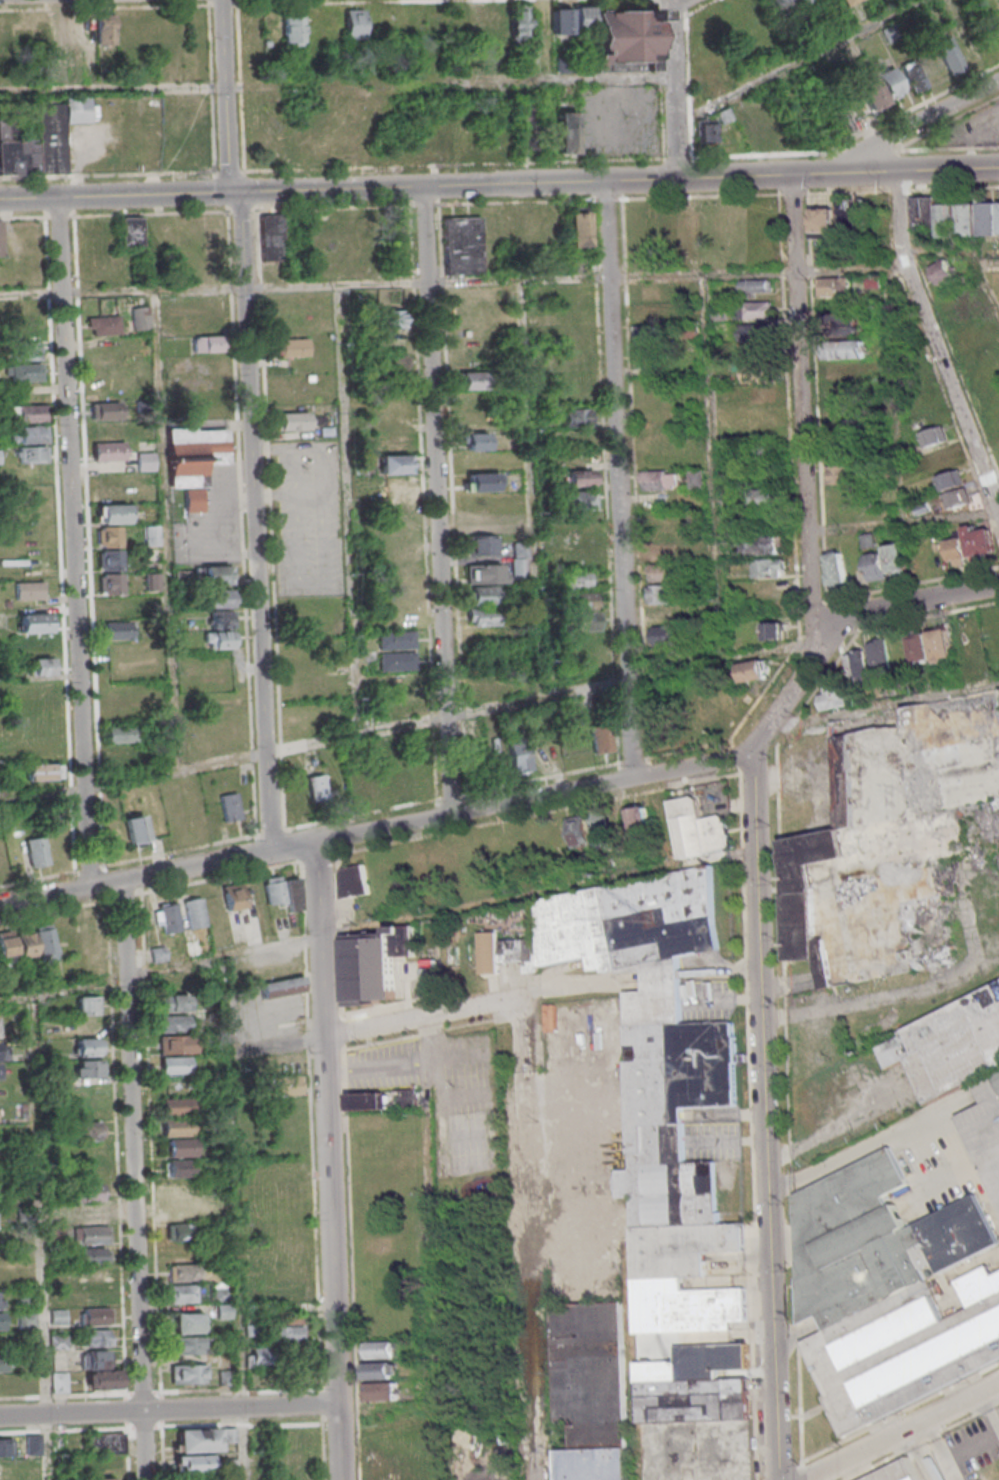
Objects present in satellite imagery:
building: (845, 2)
building: (801, 3)
building: (781, 6)
road: (693, 10)
building: (520, 21)
building: (561, 21)
building: (489, 22)
building: (355, 23)
building: (65, 27)
building: (293, 28)
building: (105, 29)
building: (622, 40)
building: (967, 47)
building: (948, 54)
road: (794, 61)
building: (564, 63)
building: (916, 75)
road: (455, 82)
building: (891, 82)
road: (674, 88)
road: (118, 91)
building: (870, 91)
building: (839, 123)
road: (907, 125)
building: (566, 132)
building: (705, 132)
road: (852, 138)
building: (40, 139)
building: (273, 140)
road: (901, 144)
road: (669, 157)
road: (744, 174)
road: (245, 191)
traffic signals: (242, 192)
building: (945, 215)
building: (854, 217)
building: (989, 217)
road: (25, 219)
building: (822, 222)
building: (578, 227)
building: (688, 227)
building: (132, 231)
building: (399, 231)
building: (273, 236)
building: (0, 238)
building: (462, 245)
road: (954, 250)
road: (51, 255)
building: (945, 272)
road: (453, 284)
building: (756, 286)
building: (835, 286)
road: (987, 287)
building: (649, 291)
road: (54, 295)
building: (754, 309)
building: (140, 317)
building: (392, 318)
building: (844, 324)
building: (103, 325)
building: (754, 332)
building: (648, 334)
road: (934, 337)
building: (207, 343)
building: (293, 347)
building: (27, 349)
building: (845, 349)
building: (843, 370)
building: (24, 372)
building: (757, 373)
building: (471, 380)
building: (759, 394)
building: (579, 396)
building: (392, 402)
building: (208, 406)
building: (106, 410)
building: (27, 412)
building: (842, 412)
road: (804, 416)
building: (573, 417)
building: (472, 419)
building: (292, 420)
road: (251, 424)
building: (109, 430)
building: (29, 433)
building: (935, 436)
building: (475, 441)
building: (108, 451)
building: (32, 453)
building: (0, 456)
building: (762, 458)
building: (145, 460)
building: (194, 460)
building: (940, 460)
building: (394, 463)
road: (714, 471)
building: (842, 474)
building: (580, 477)
road: (618, 478)
building: (696, 478)
building: (661, 480)
building: (951, 480)
building: (482, 481)
building: (396, 483)
building: (358, 487)
building: (109, 489)
road: (529, 491)
building: (764, 497)
road: (435, 499)
building: (957, 499)
building: (580, 500)
road: (348, 511)
building: (111, 513)
road: (906, 523)
road: (164, 531)
building: (151, 534)
building: (480, 534)
building: (108, 536)
building: (578, 541)
road: (63, 544)
road: (72, 544)
building: (764, 545)
building: (972, 545)
building: (661, 552)
building: (108, 559)
building: (519, 560)
building: (887, 562)
building: (767, 567)
building: (837, 569)
building: (663, 572)
building: (483, 573)
building: (212, 575)
building: (576, 579)
building: (109, 583)
building: (29, 590)
building: (483, 595)
building: (217, 598)
building: (154, 602)
building: (117, 608)
building: (583, 611)
building: (483, 616)
building: (664, 616)
road: (839, 620)
building: (34, 622)
building: (117, 630)
building: (220, 630)
building: (773, 630)
building: (396, 639)
building: (584, 642)
building: (930, 647)
building: (880, 658)
building: (397, 661)
building: (41, 666)
building: (857, 666)
building: (752, 670)
building: (39, 687)
building: (119, 692)
building: (832, 698)
building: (403, 706)
road: (887, 706)
road: (408, 725)
building: (121, 733)
building: (601, 738)
building: (540, 751)
building: (519, 754)
building: (124, 755)
building: (499, 760)
building: (43, 770)
building: (398, 776)
building: (317, 786)
building: (358, 786)
road: (73, 789)
building: (297, 796)
road: (533, 797)
building: (230, 806)
building: (639, 818)
building: (588, 827)
building: (697, 828)
building: (135, 829)
road: (292, 845)
building: (893, 845)
building: (57, 846)
road: (390, 846)
building: (36, 851)
building: (437, 861)
road: (196, 867)
building: (353, 880)
road: (105, 887)
building: (283, 891)
building: (233, 896)
road: (44, 899)
building: (194, 912)
building: (166, 917)
building: (89, 935)
road: (319, 939)
building: (37, 944)
building: (7, 945)
building: (519, 951)
building: (488, 952)
building: (374, 964)
road: (159, 970)
road: (719, 970)
building: (429, 972)
road: (661, 975)
road: (569, 981)
building: (282, 986)
building: (172, 1002)
building: (87, 1005)
road: (419, 1020)
building: (173, 1023)
road: (785, 1027)
road: (347, 1041)
road: (276, 1043)
building: (175, 1044)
road: (311, 1044)
building: (948, 1045)
building: (86, 1046)
building: (175, 1064)
building: (87, 1068)
building: (660, 1084)
building: (174, 1085)
building: (284, 1085)
building: (406, 1097)
building: (370, 1100)
building: (176, 1107)
road: (764, 1116)
building: (986, 1126)
building: (89, 1130)
road: (890, 1136)
building: (178, 1137)
road: (131, 1147)
building: (178, 1168)
building: (177, 1188)
road: (780, 1189)
building: (91, 1191)
building: (184, 1210)
building: (88, 1213)
building: (179, 1231)
building: (90, 1235)
road: (42, 1237)
road: (527, 1246)
building: (92, 1255)
road: (332, 1258)
road: (353, 1264)
road: (239, 1265)
road: (318, 1265)
building: (182, 1271)
building: (92, 1286)
road: (435, 1286)
building: (890, 1291)
building: (184, 1293)
building: (293, 1293)
building: (95, 1316)
building: (1, 1317)
building: (57, 1317)
building: (26, 1319)
building: (187, 1322)
building: (288, 1332)
building: (95, 1337)
building: (2, 1342)
building: (187, 1345)
building: (378, 1349)
building: (259, 1356)
building: (2, 1363)
building: (378, 1370)
building: (98, 1371)
building: (187, 1373)
building: (593, 1376)
building: (225, 1377)
building: (59, 1382)
building: (695, 1386)
building: (382, 1391)
road: (169, 1409)
road: (902, 1431)
building: (229, 1434)
building: (299, 1437)
building: (197, 1440)
building: (109, 1442)
building: (33, 1444)
road: (143, 1445)
building: (6, 1447)
building: (192, 1463)
building: (227, 1465)
building: (596, 1465)
building: (102, 1466)
building: (923, 1467)
building: (1, 1470)
building: (389, 1472)
building: (99, 1479)

